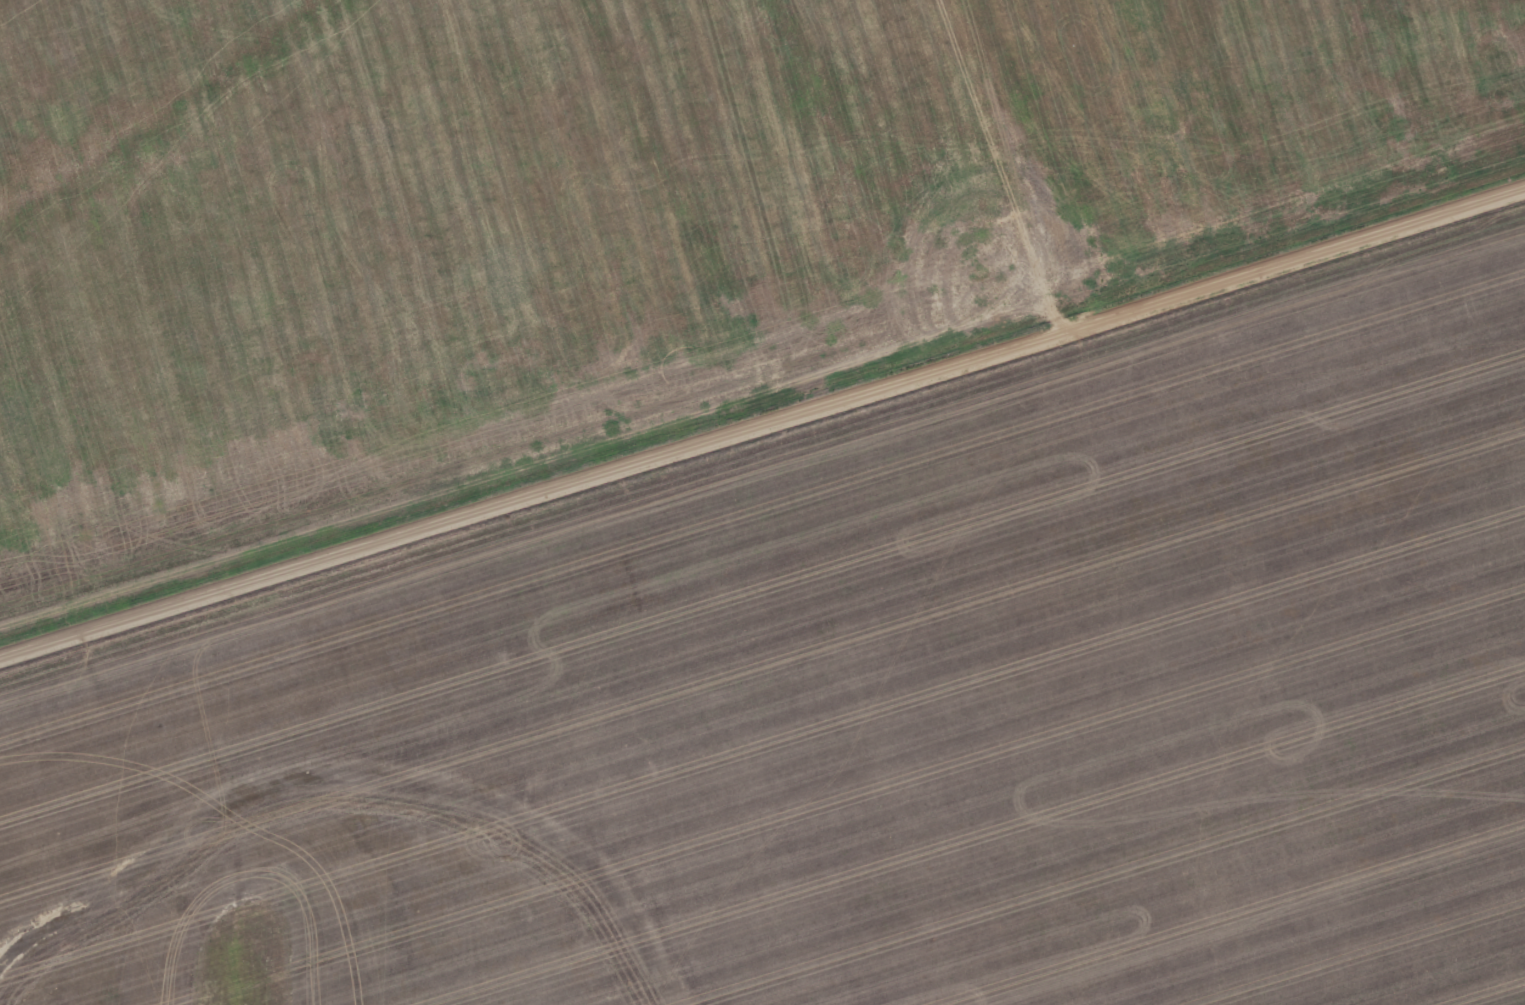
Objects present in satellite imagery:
road: (762, 422)

